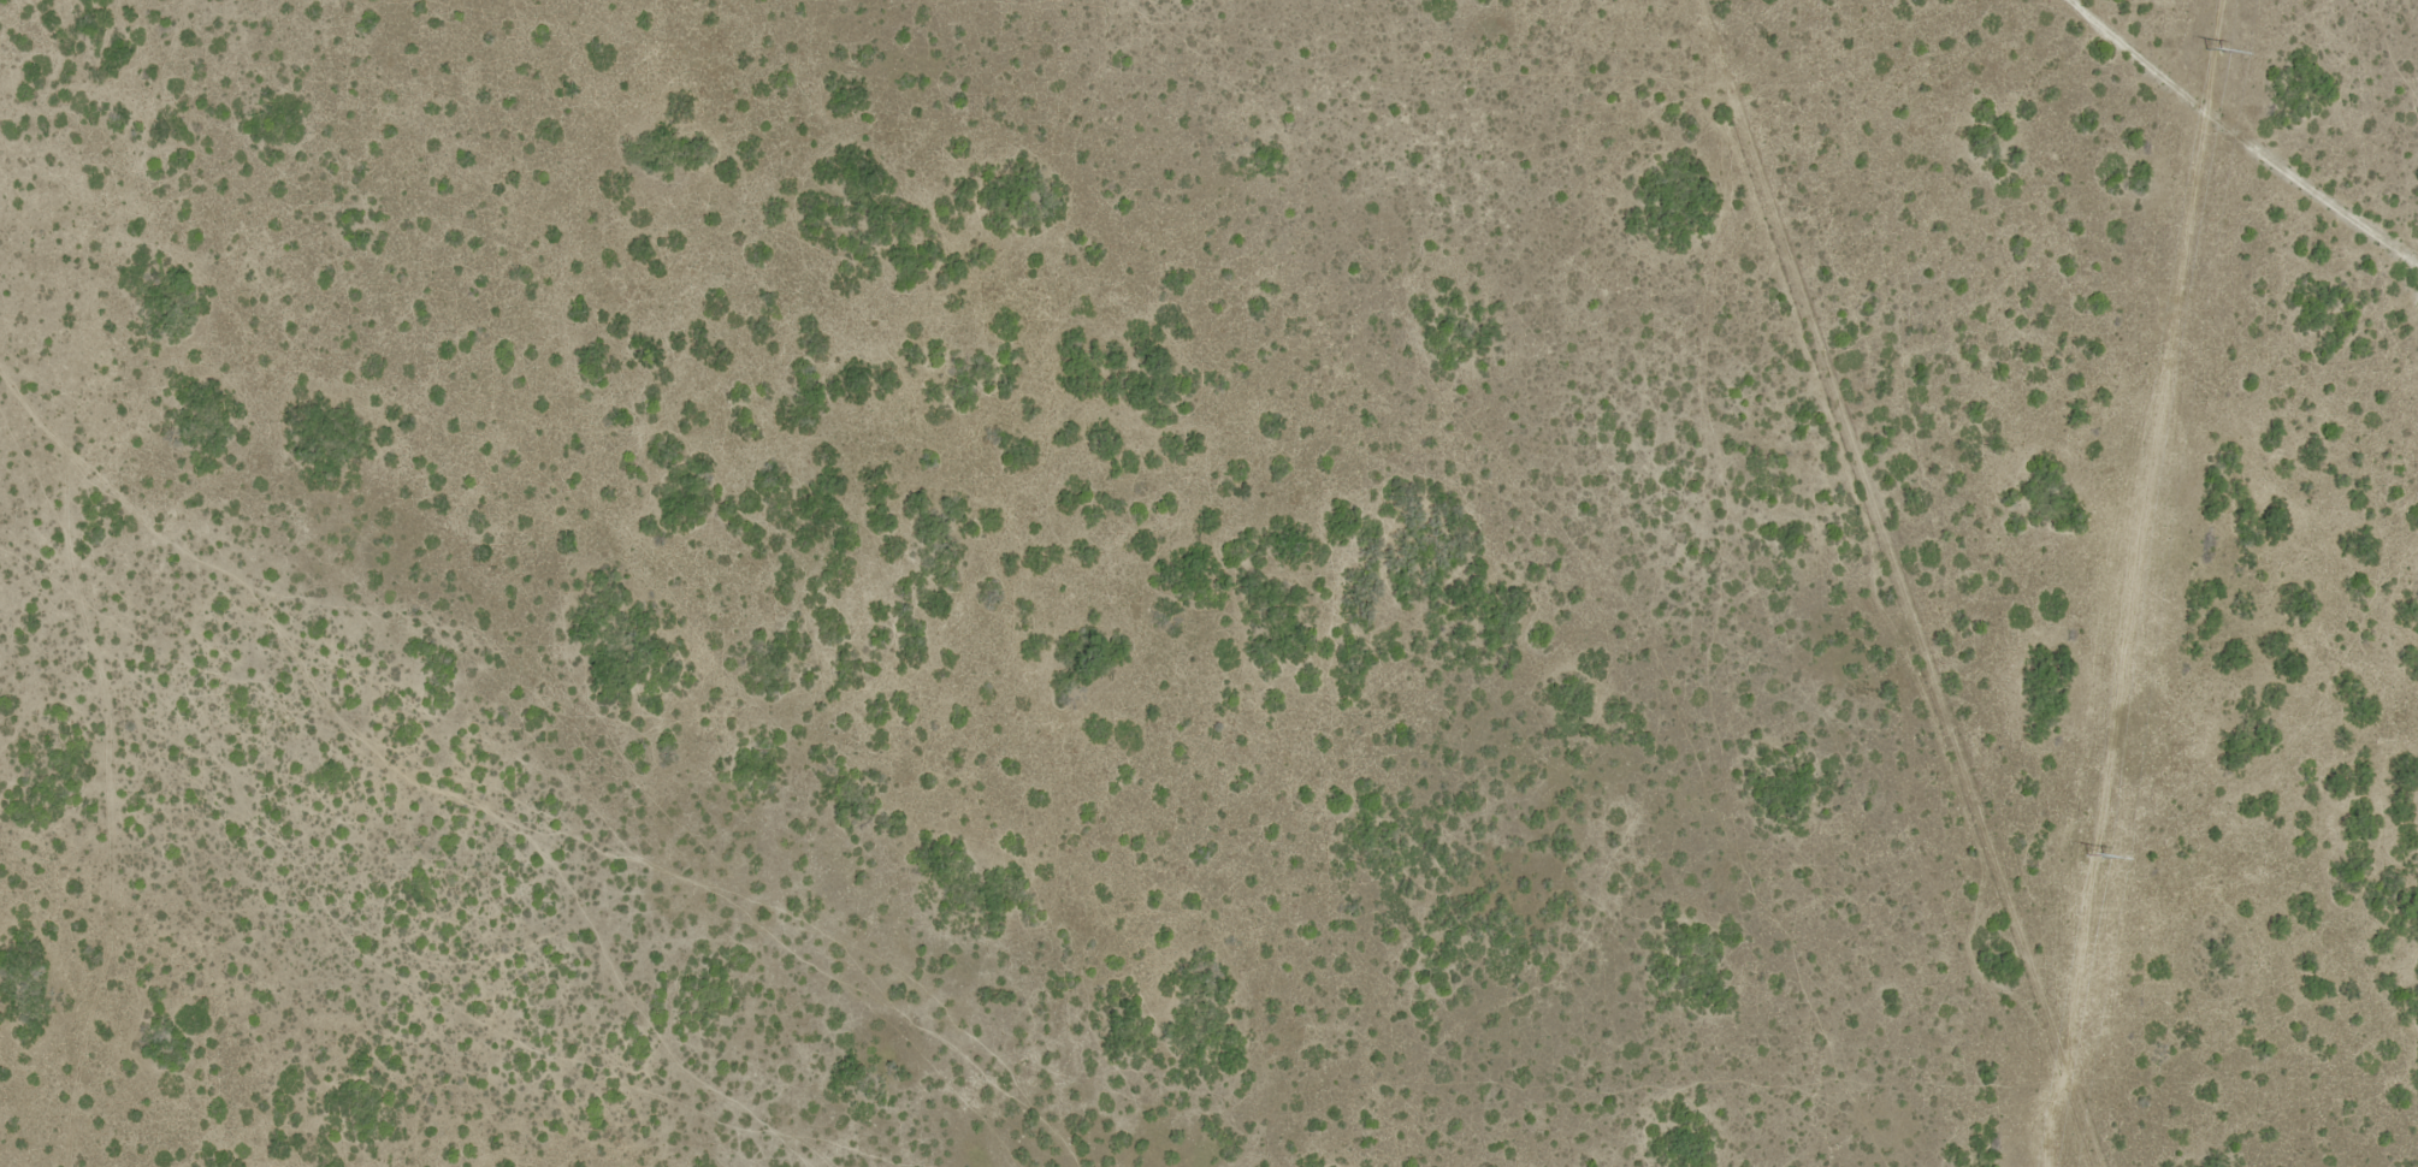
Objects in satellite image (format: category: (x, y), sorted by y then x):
power tower: (2211, 49)
power tower: (2092, 854)

